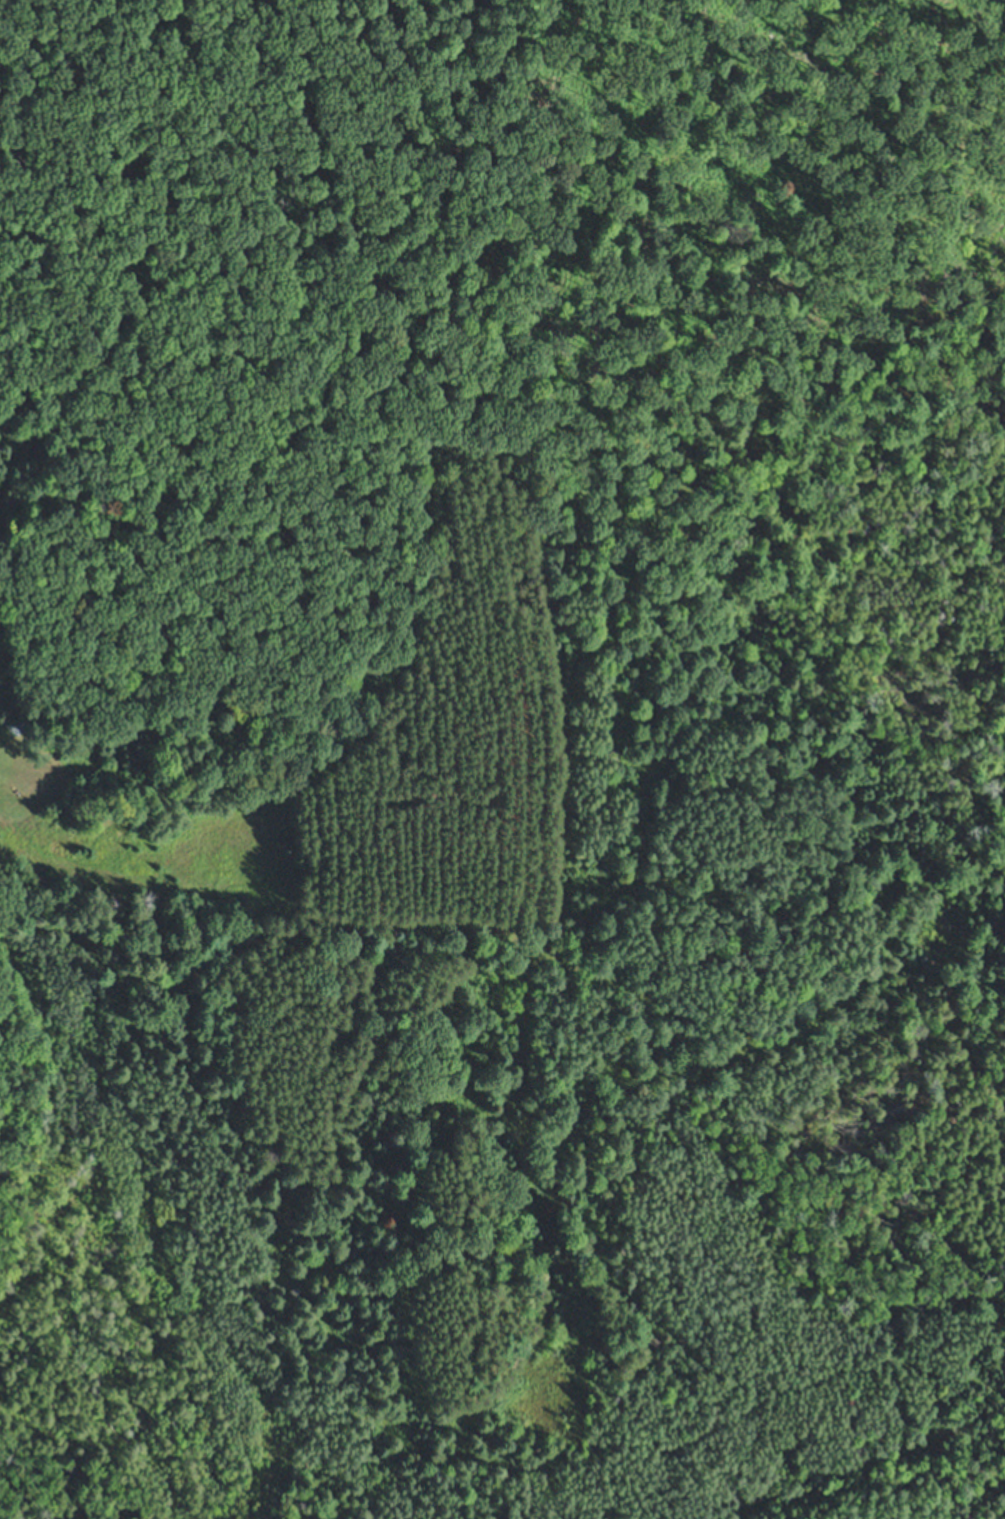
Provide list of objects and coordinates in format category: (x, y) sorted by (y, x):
building: (19, 728)

